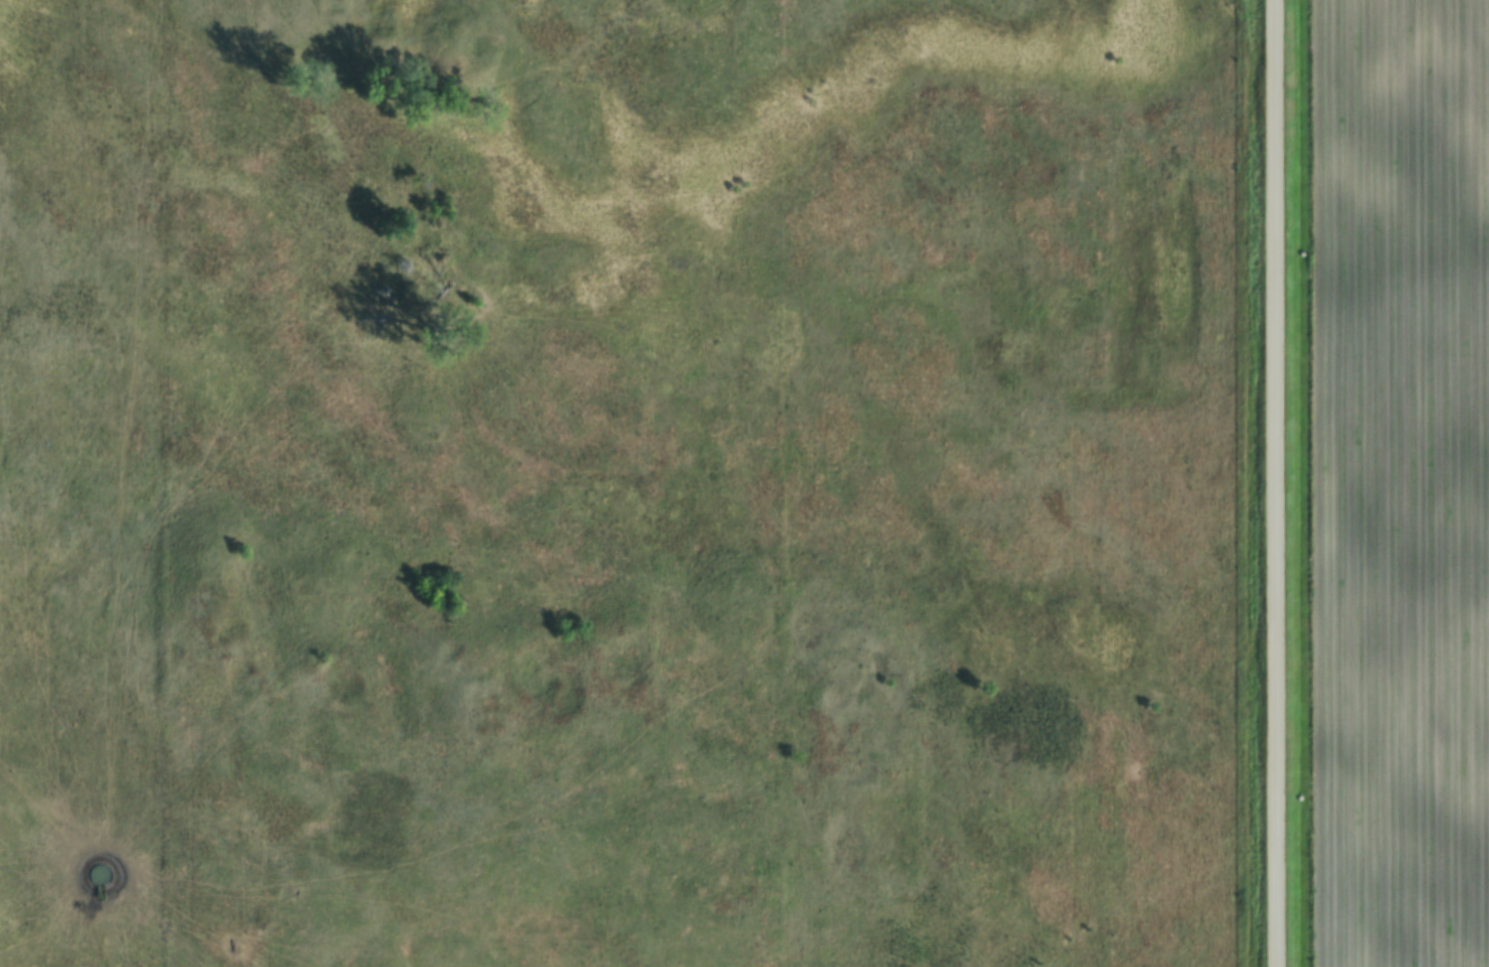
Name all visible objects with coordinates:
road: (1276, 483)

